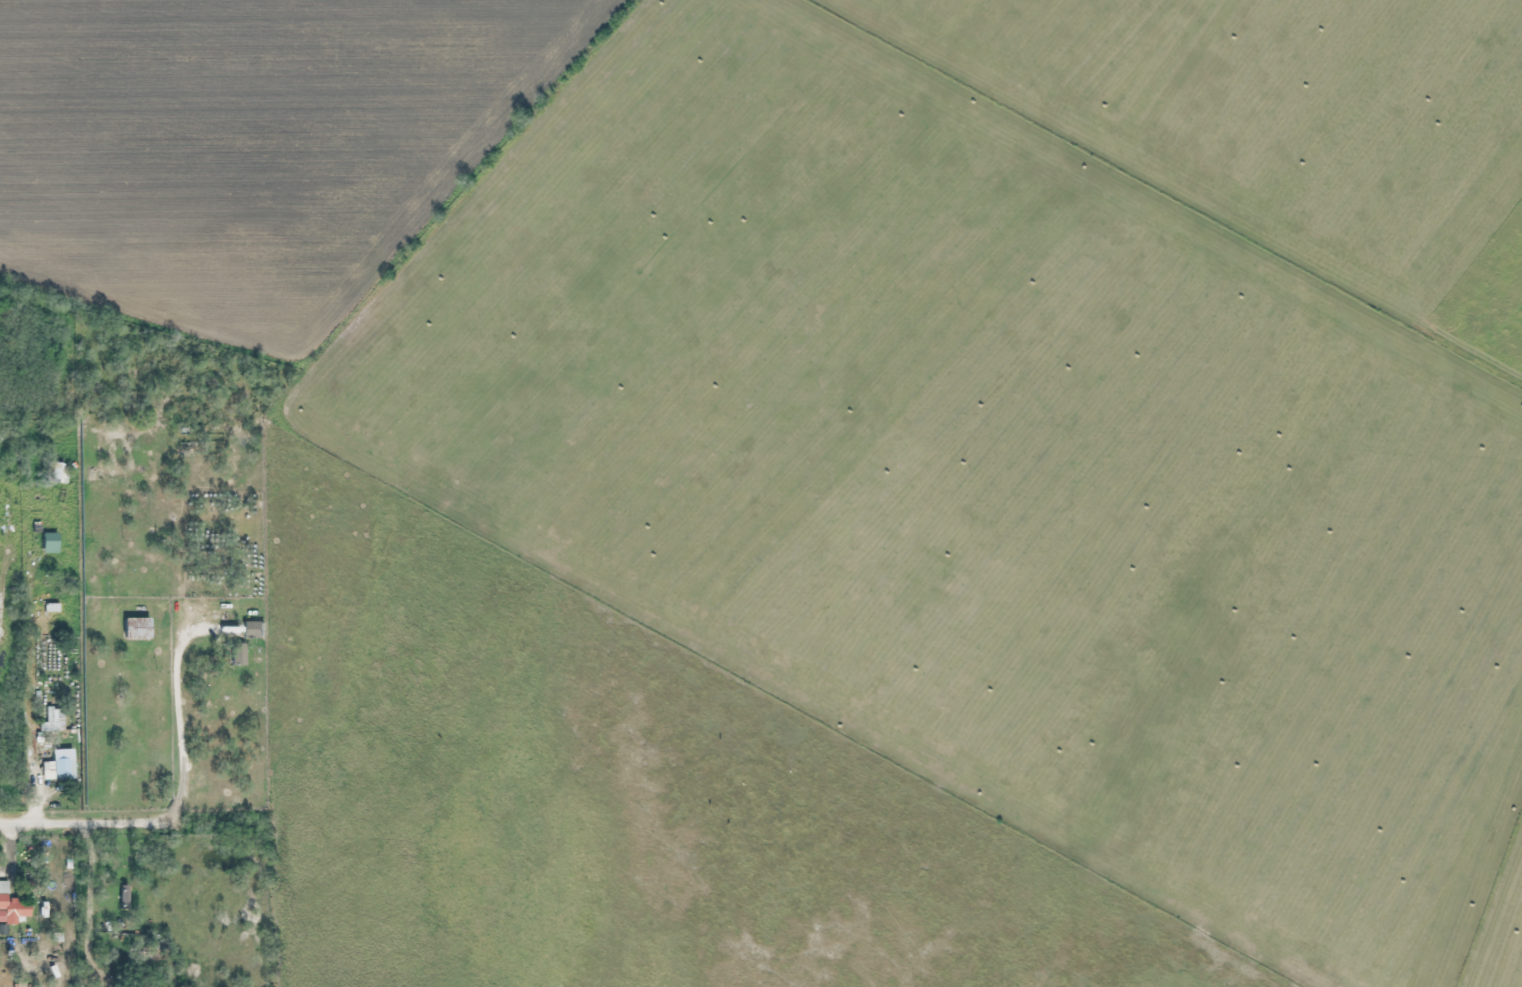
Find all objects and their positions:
road: (442, 536)
building: (49, 543)
building: (136, 628)
building: (254, 630)
building: (238, 654)
building: (43, 703)
building: (59, 766)
road: (529, 792)
building: (12, 907)

